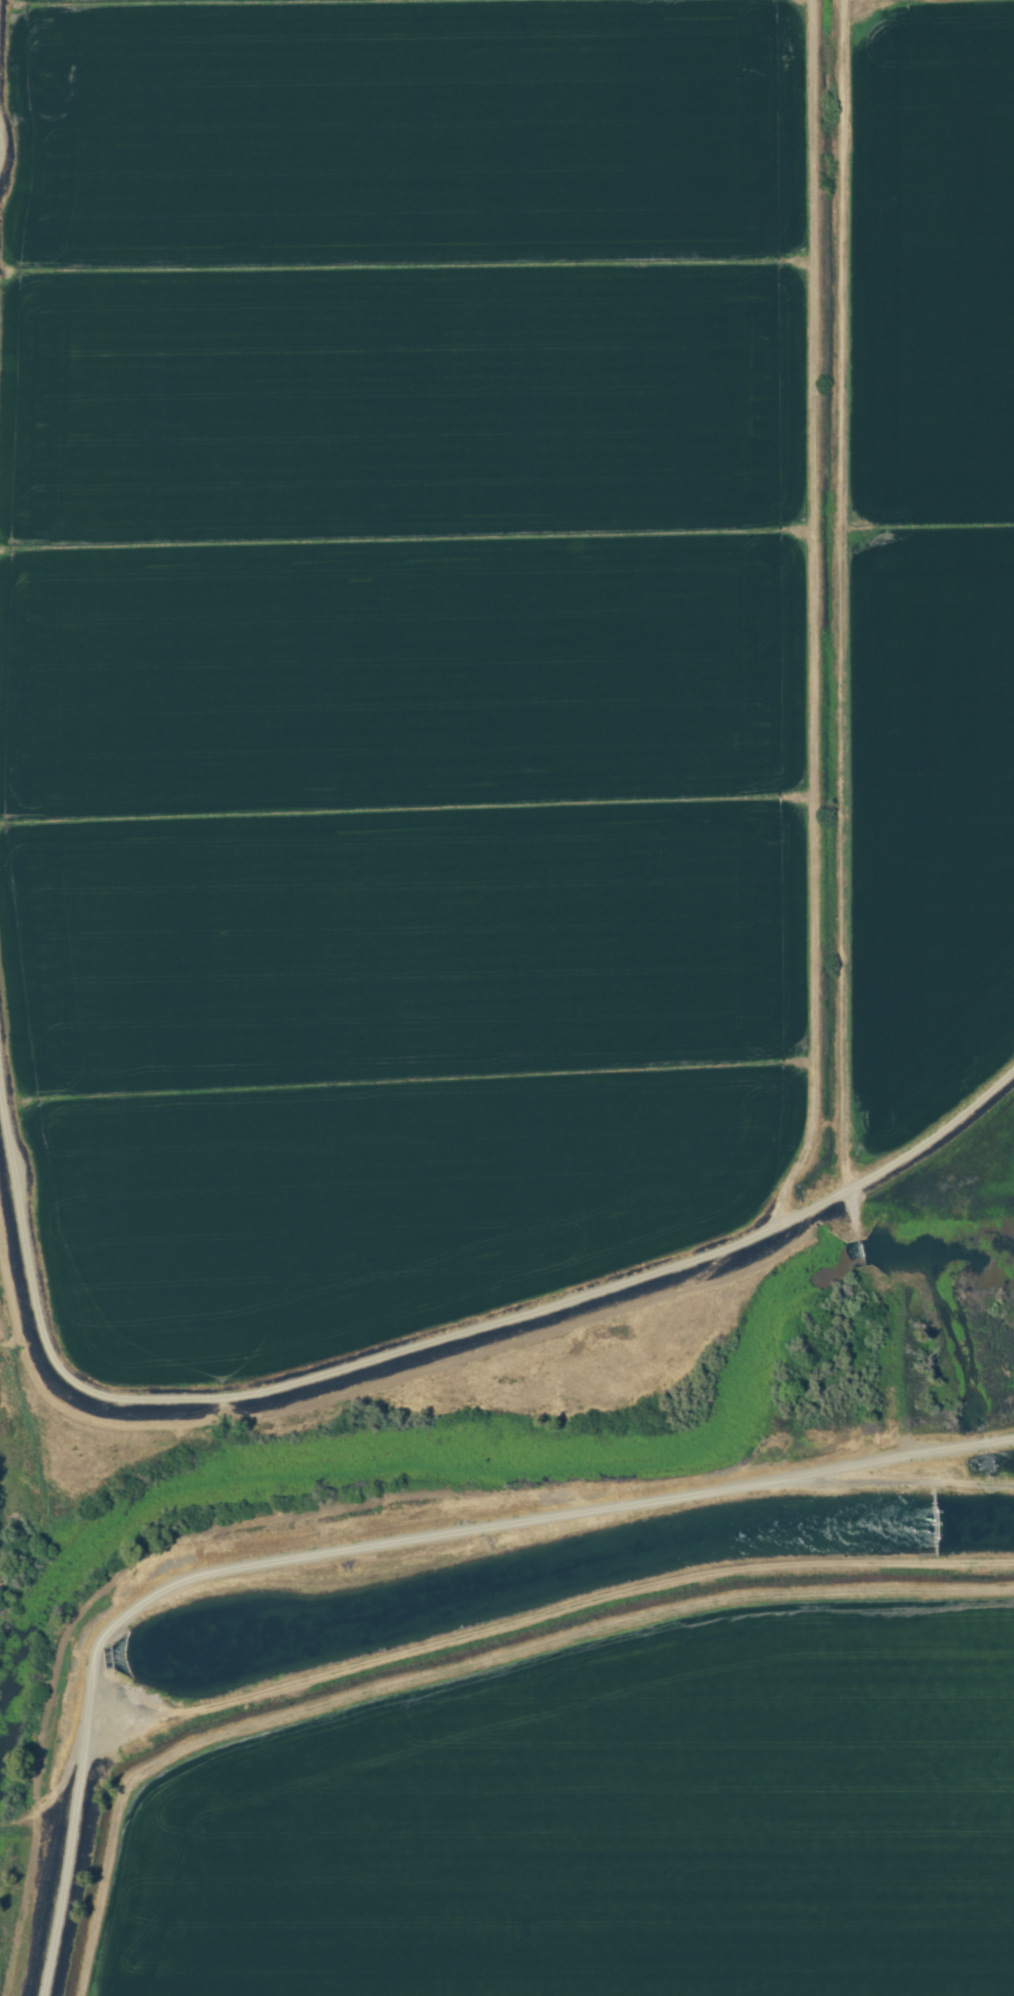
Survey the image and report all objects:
river: (983, 1525)

